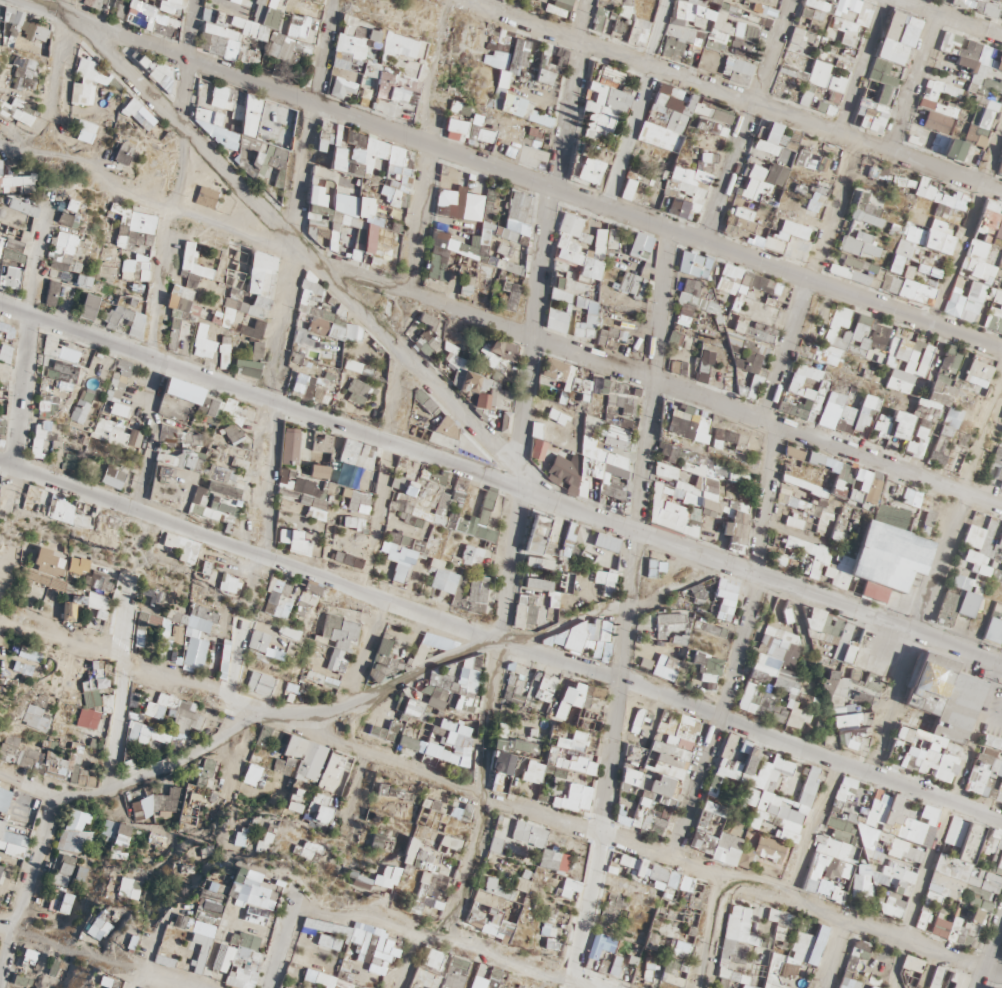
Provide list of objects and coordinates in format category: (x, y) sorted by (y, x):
building: (965, 3)
building: (993, 8)
road: (954, 17)
building: (894, 25)
building: (793, 66)
road: (913, 77)
building: (828, 79)
building: (883, 85)
building: (964, 95)
building: (1000, 168)
building: (981, 271)
road: (950, 802)

